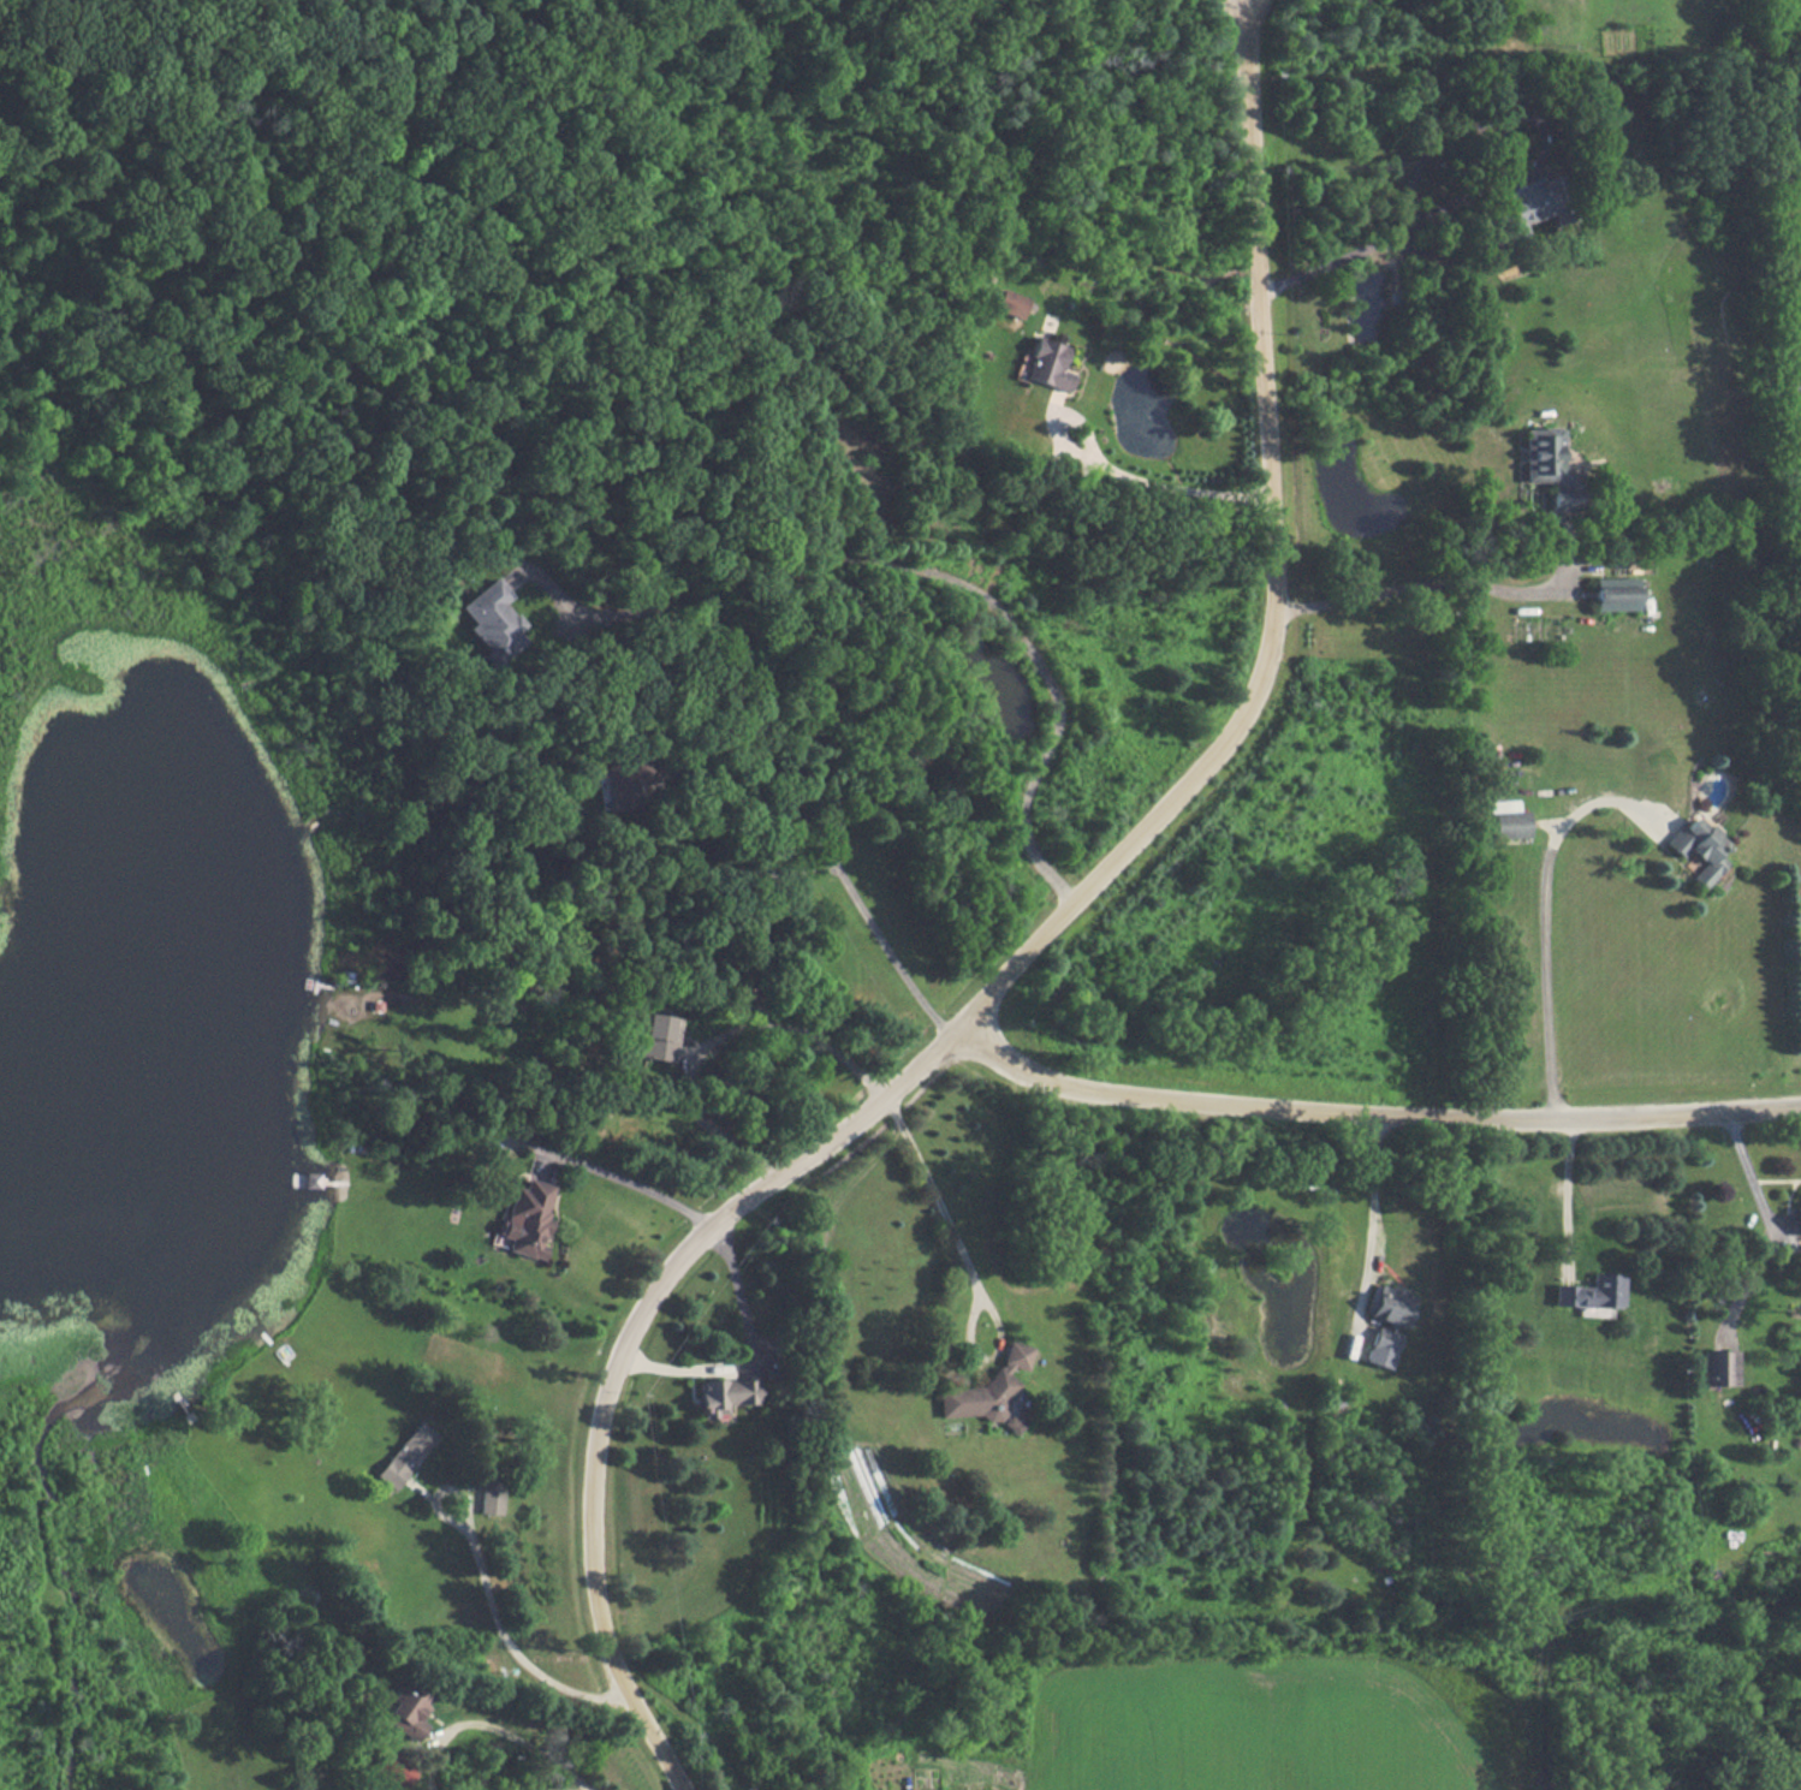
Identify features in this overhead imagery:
road: (5, 25)
road: (1417, 167)
building: (1011, 302)
building: (1047, 364)
building: (1546, 462)
road: (1163, 488)
road: (921, 570)
road: (1420, 587)
building: (1615, 593)
building: (491, 620)
building: (618, 781)
building: (1508, 819)
building: (1695, 848)
road: (839, 875)
road: (1544, 922)
road: (1030, 951)
building: (658, 1036)
road: (714, 1041)
road: (1368, 1116)
road: (1748, 1172)
road: (629, 1183)
road: (1374, 1189)
road: (1568, 1193)
road: (941, 1206)
building: (1799, 1213)
building: (527, 1218)
building: (1588, 1291)
building: (1390, 1304)
building: (1381, 1345)
road: (748, 1354)
building: (1722, 1367)
building: (991, 1392)
building: (721, 1393)
building: (405, 1453)
building: (491, 1498)
road: (506, 1641)
building: (406, 1709)
road: (527, 1744)
building: (391, 1767)

